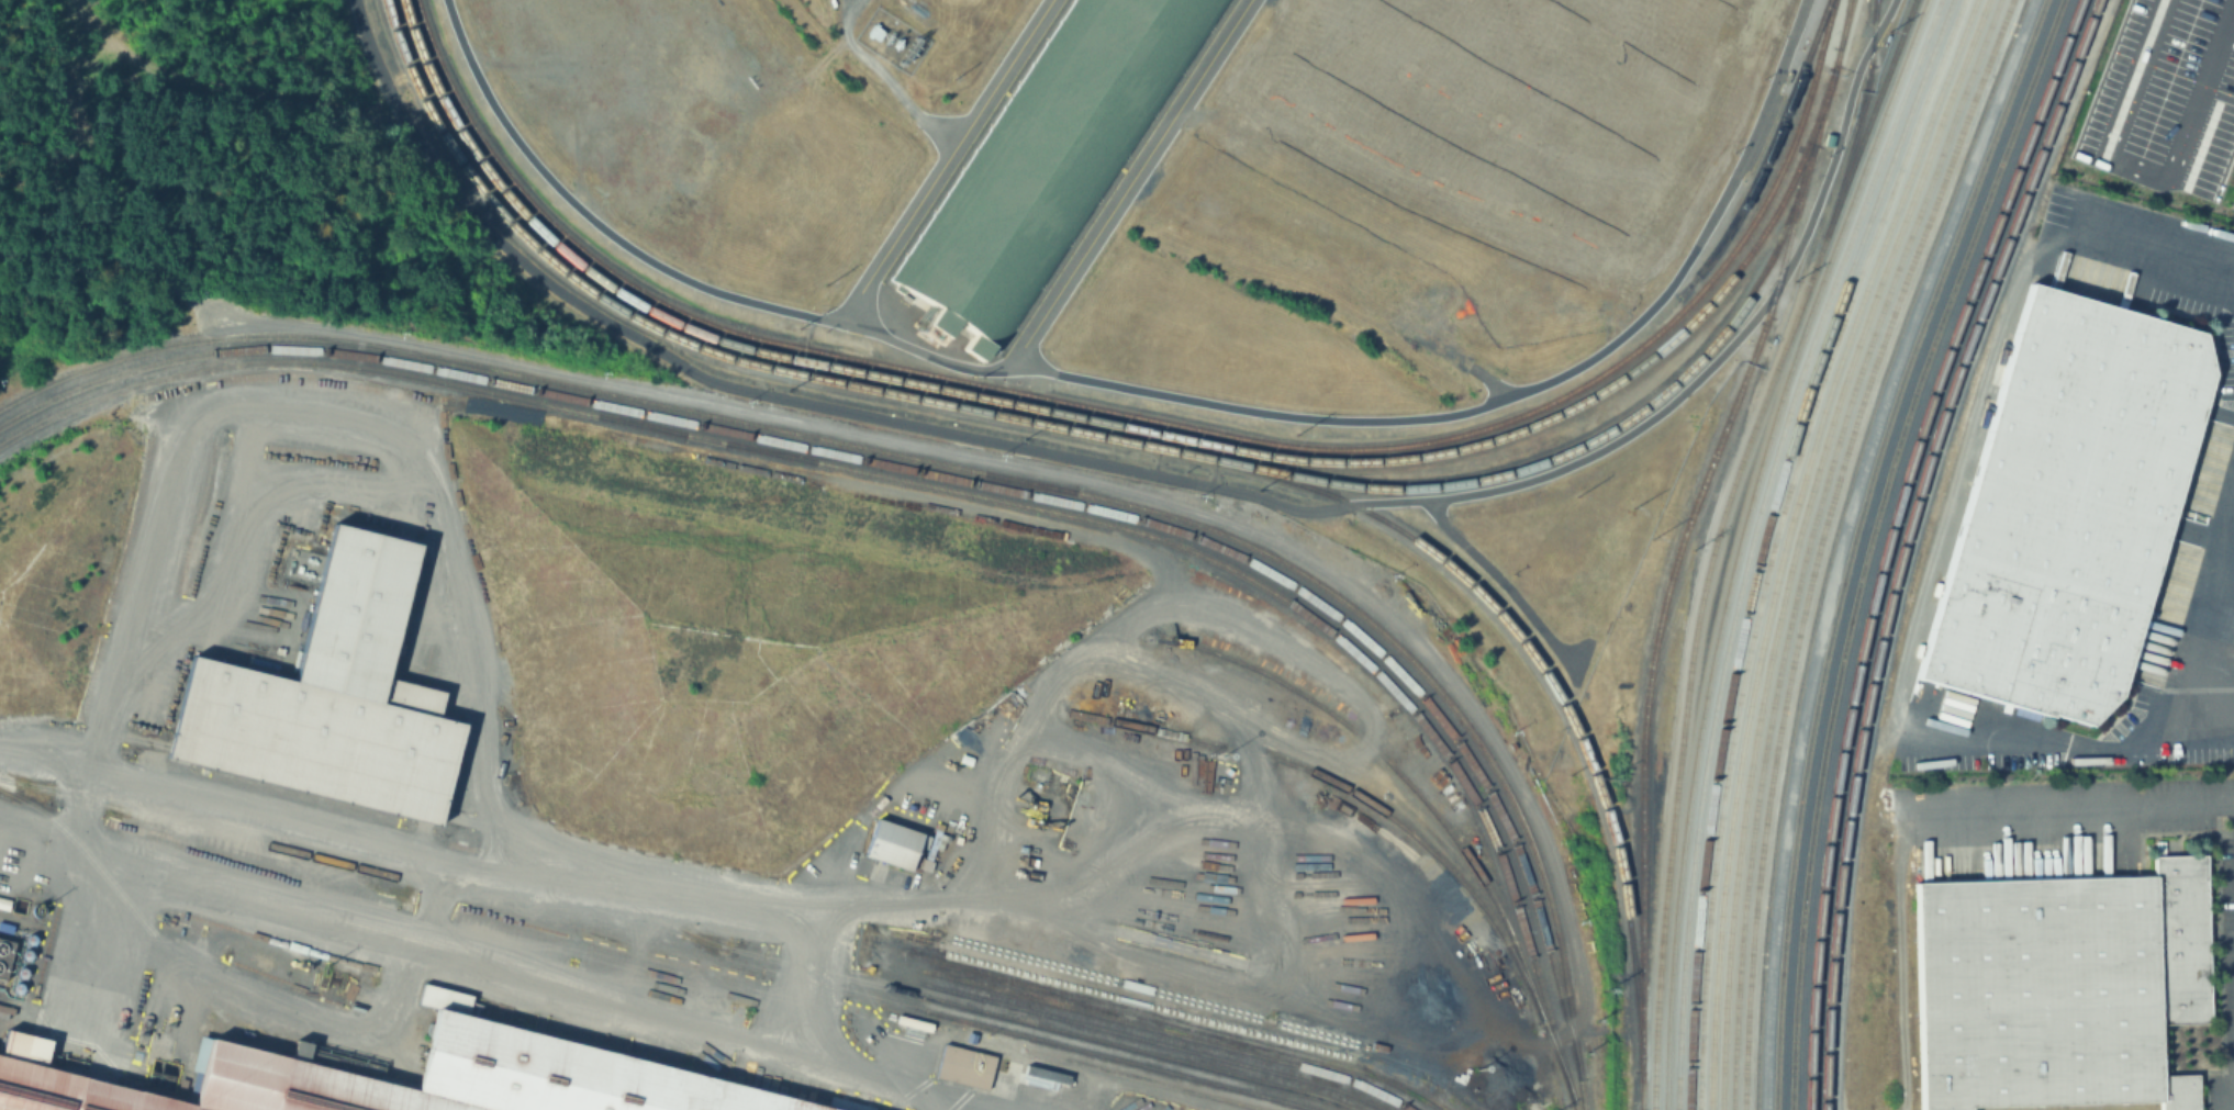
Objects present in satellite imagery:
railway: (1842, 25)
building: (872, 35)
power substation: (891, 38)
road: (2190, 89)
road: (908, 103)
railway: (1858, 121)
railway: (1768, 156)
building: (1047, 157)
road: (946, 164)
road: (1128, 186)
road: (2162, 247)
road: (1159, 399)
railway: (611, 411)
railway: (1159, 421)
railway: (1095, 436)
railway: (1160, 436)
railway: (804, 451)
railway: (948, 468)
railway: (1738, 473)
road: (1164, 475)
railway: (951, 480)
railway: (996, 484)
railway: (941, 486)
road: (365, 489)
building: (2066, 506)
railway: (1741, 541)
railway: (1753, 541)
railway: (1765, 541)
railway: (1775, 541)
railway: (1787, 541)
railway: (1799, 541)
railway: (1821, 541)
railway: (1832, 541)
railway: (1852, 541)
railway: (1869, 541)
railway: (1886, 541)
railway: (1902, 541)
railway: (1812, 542)
railway: (1680, 557)
road: (2226, 604)
railway: (1561, 695)
building: (328, 700)
road: (2071, 745)
road: (44, 759)
railway: (1354, 795)
road: (2076, 804)
railway: (1432, 811)
building: (894, 843)
railway: (267, 857)
road: (550, 879)
road: (88, 883)
road: (914, 901)
railway: (674, 938)
railway: (651, 944)
railway: (169, 958)
road: (493, 965)
building: (2057, 989)
railway: (1189, 1010)
railway: (1170, 1022)
railway: (1153, 1031)
railway: (1122, 1035)
railway: (1655, 1040)
building: (964, 1068)
building: (560, 1074)
railway: (1140, 1080)
railway: (1640, 1087)
road: (995, 1107)

